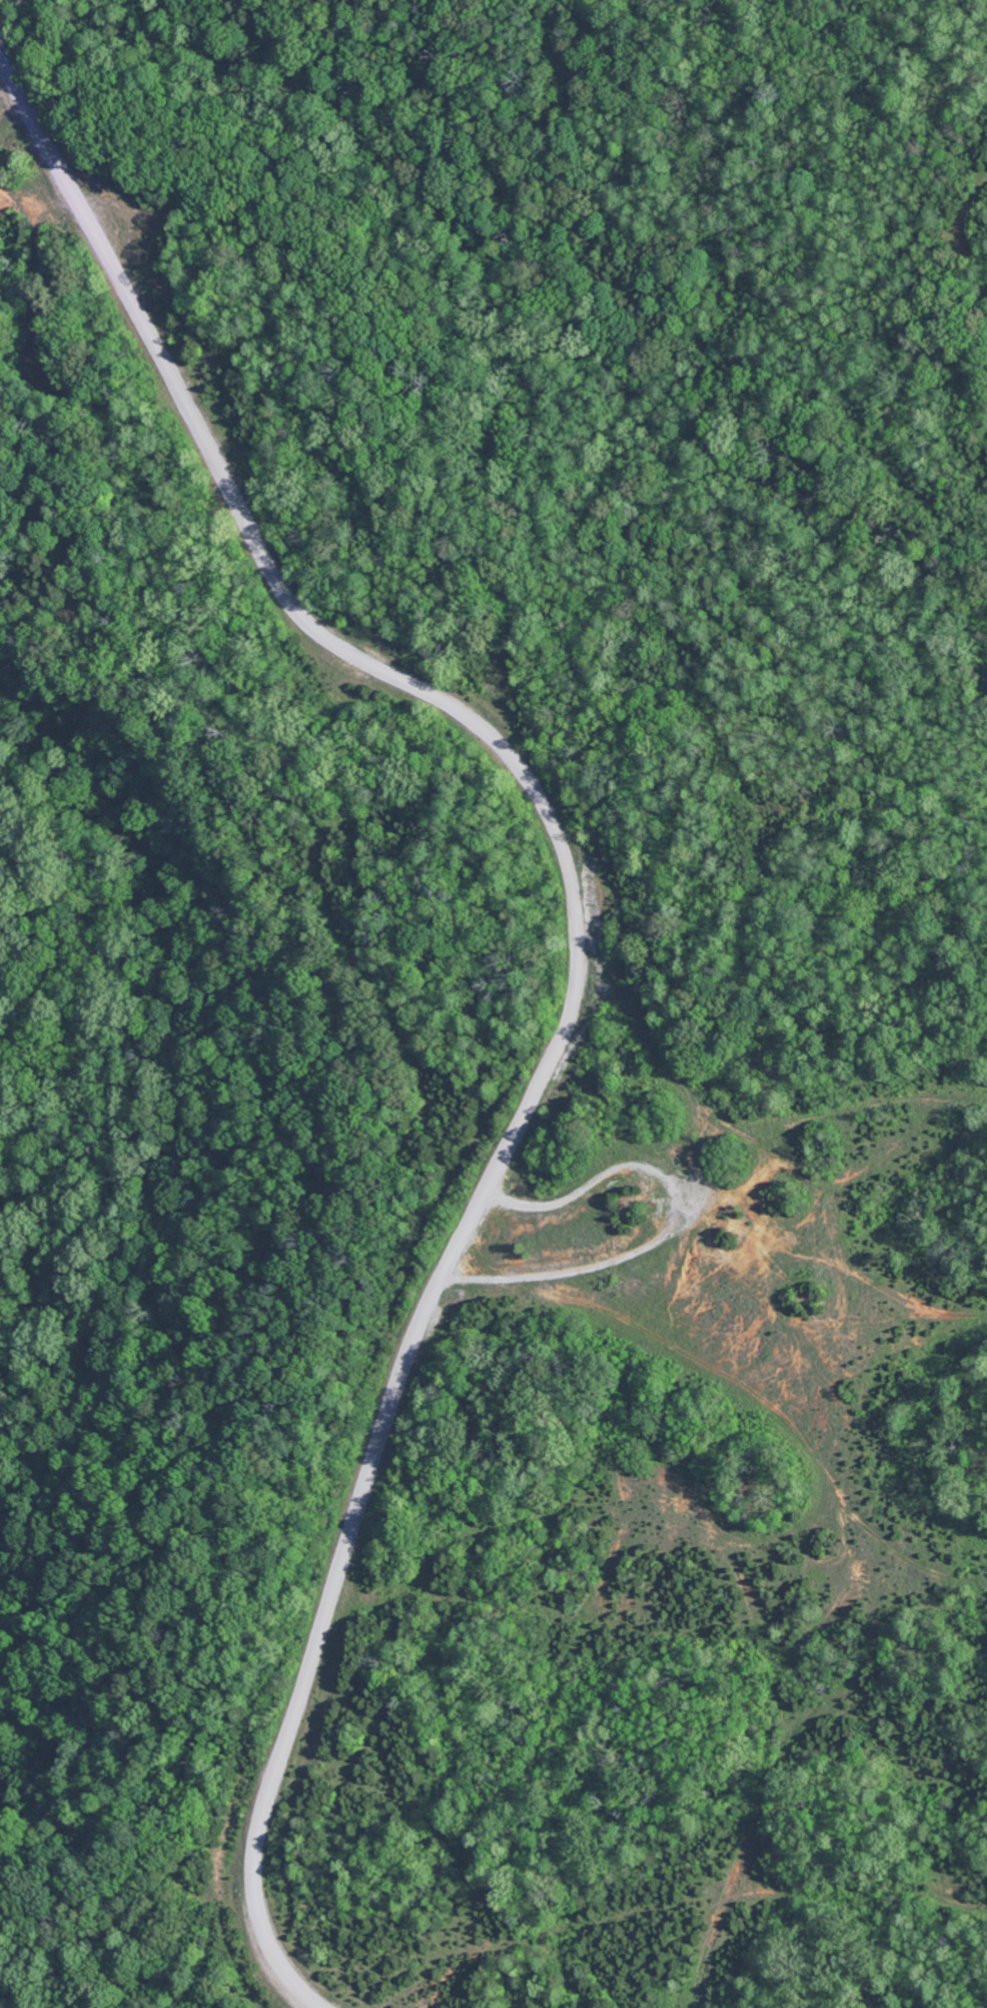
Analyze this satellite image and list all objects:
road: (581, 964)

